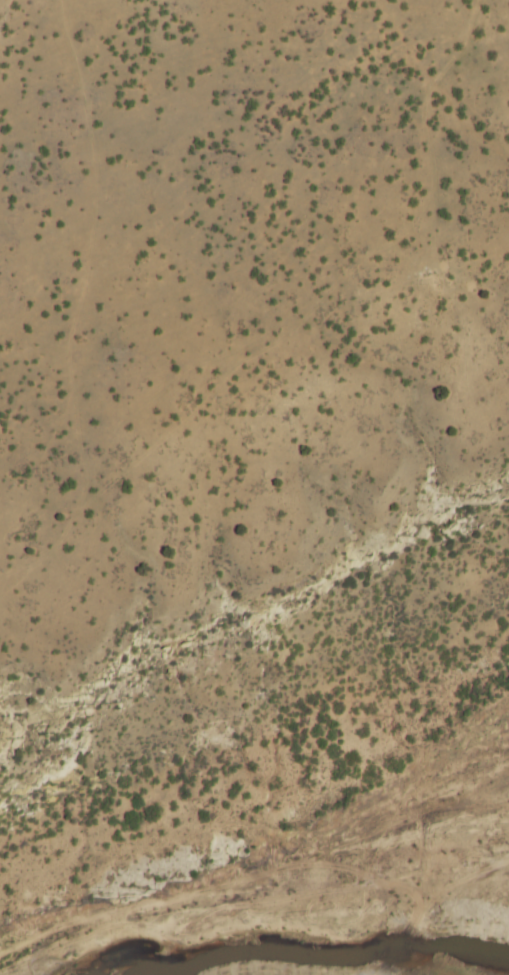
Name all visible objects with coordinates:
river: (438, 952)

